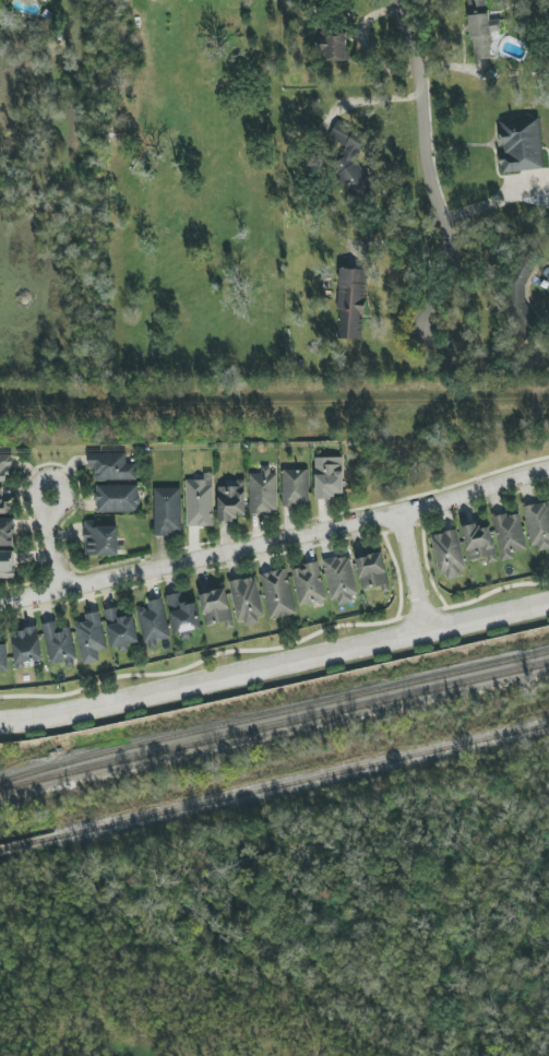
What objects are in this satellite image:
building: (481, 29)
building: (333, 47)
building: (523, 149)
building: (347, 154)
road: (426, 167)
building: (350, 304)
road: (274, 408)
building: (111, 466)
building: (4, 467)
building: (330, 477)
building: (295, 488)
building: (263, 493)
building: (117, 499)
building: (230, 500)
building: (199, 503)
building: (4, 505)
building: (167, 511)
building: (538, 524)
building: (7, 532)
building: (509, 535)
road: (46, 539)
building: (100, 539)
road: (275, 539)
building: (478, 543)
building: (449, 554)
building: (372, 570)
road: (408, 573)
building: (341, 580)
building: (308, 584)
building: (277, 594)
building: (247, 602)
building: (215, 606)
building: (182, 614)
building: (154, 624)
building: (121, 630)
building: (91, 638)
building: (59, 644)
building: (27, 646)
building: (4, 657)
road: (275, 665)
railway: (274, 713)
railway: (274, 726)
railway: (274, 787)

